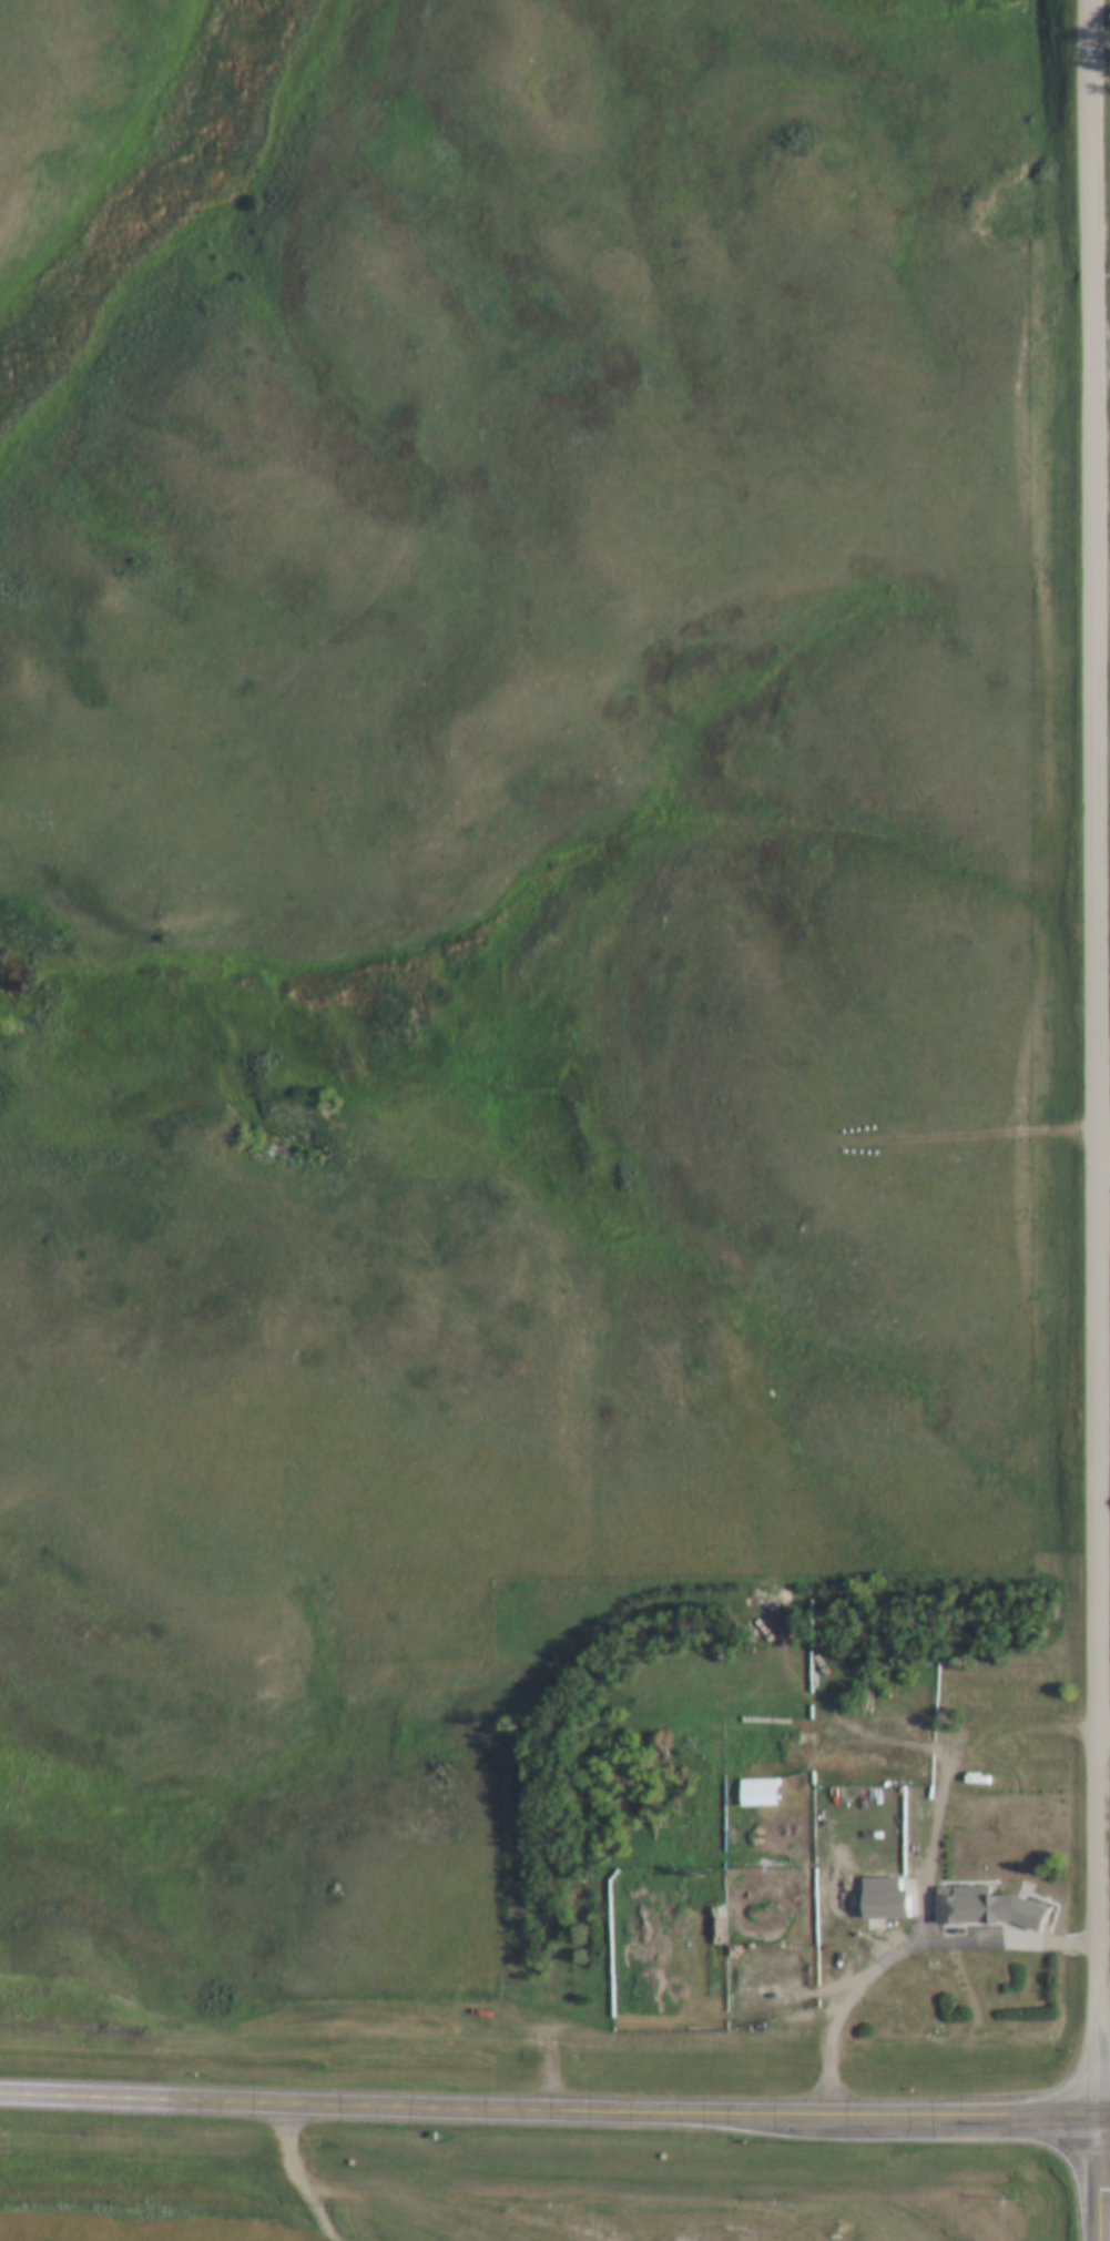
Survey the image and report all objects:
road: (1100, 1055)
building: (754, 1789)
building: (990, 1909)
building: (949, 1912)
road: (906, 1946)
road: (554, 2107)
road: (305, 2174)
road: (1094, 2176)
road: (473, 2214)

